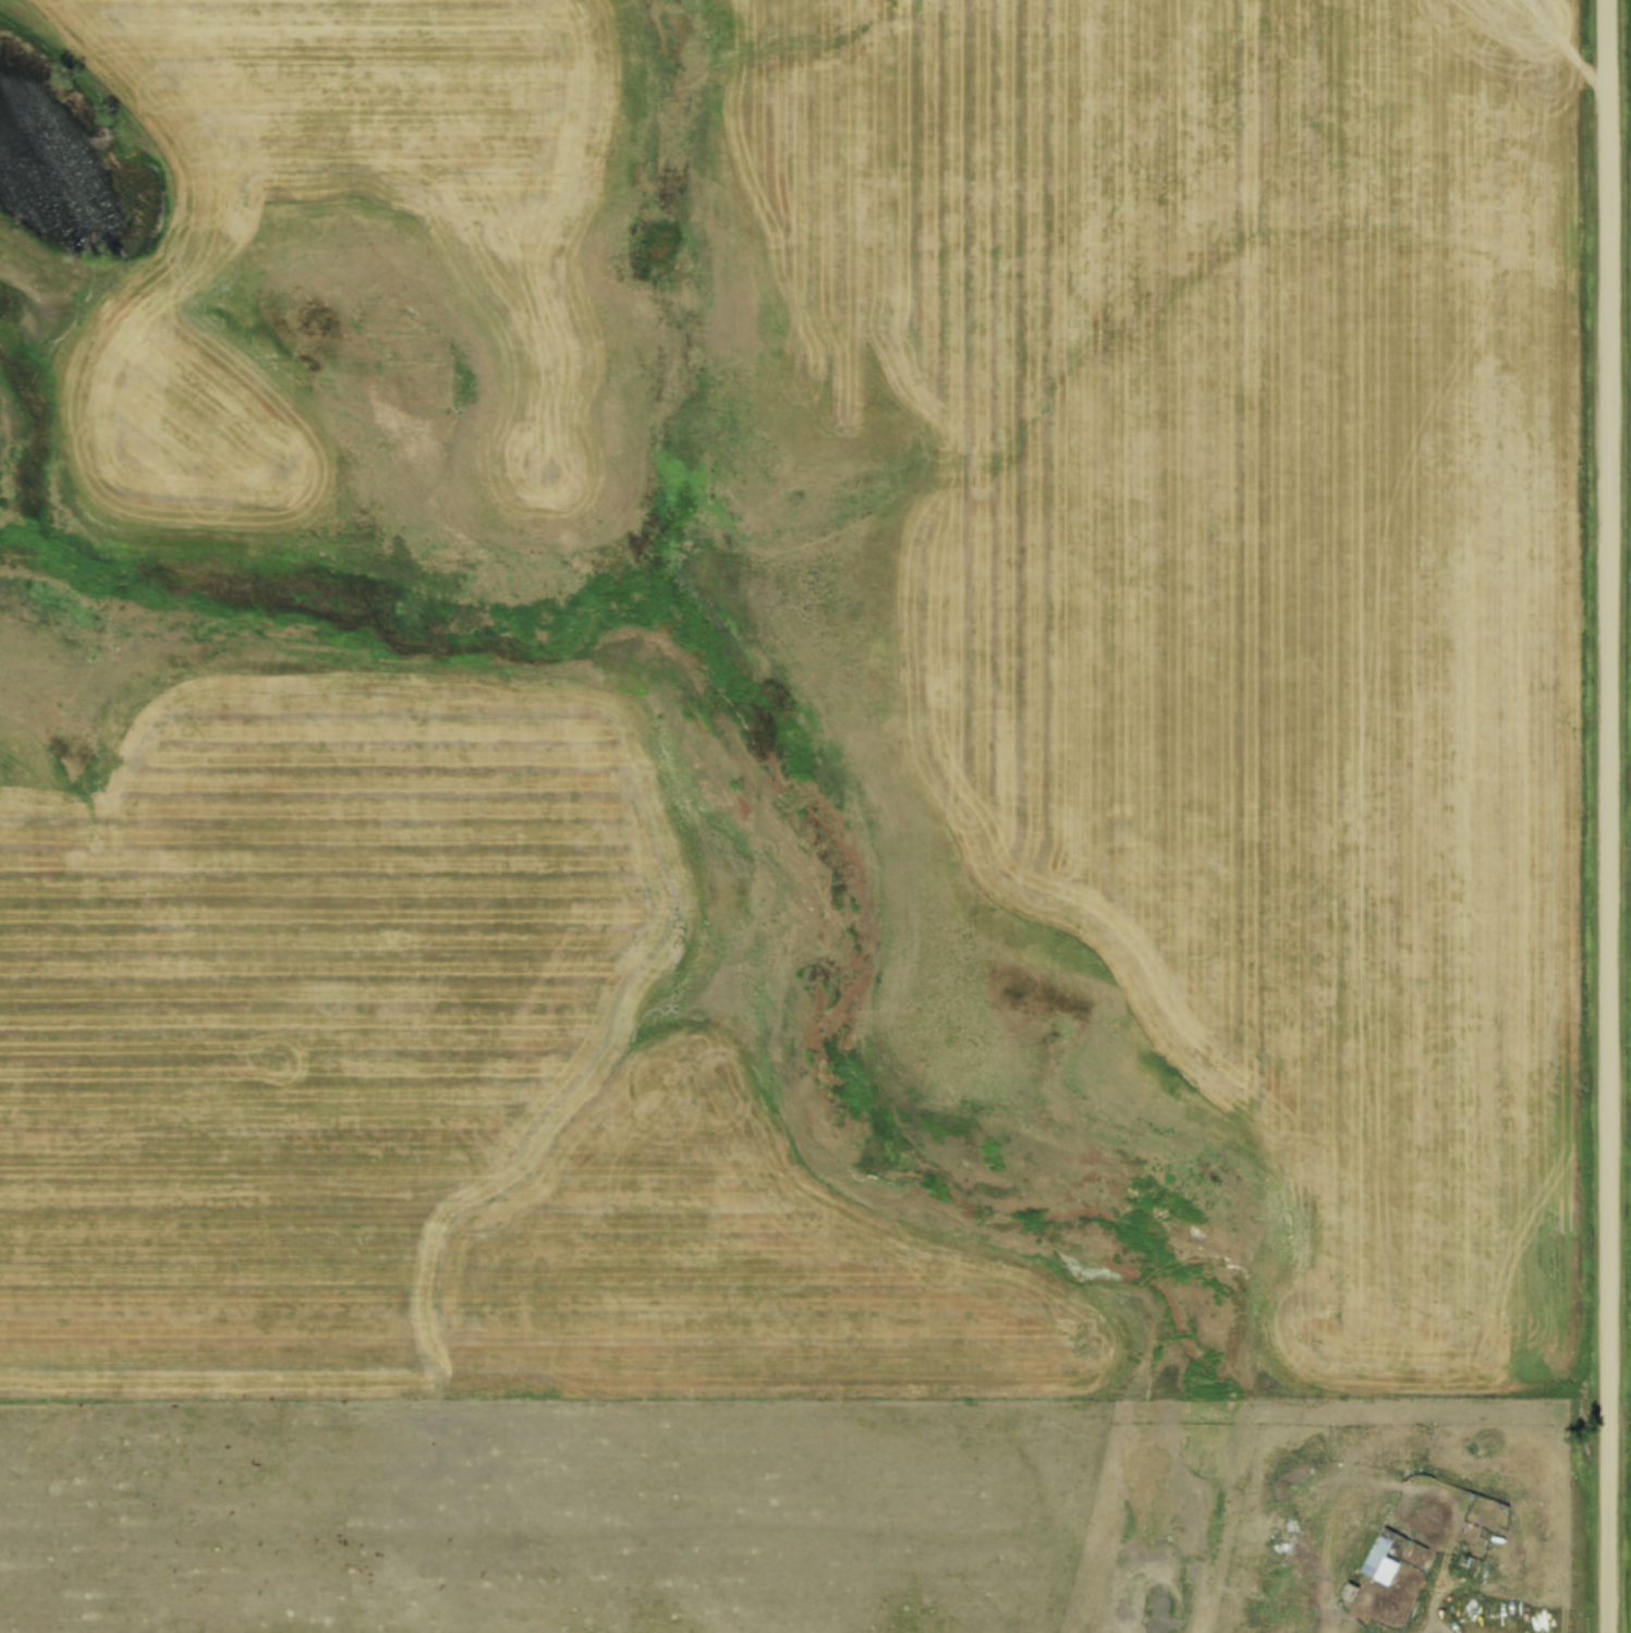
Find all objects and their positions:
road: (1608, 816)
building: (1388, 1560)

